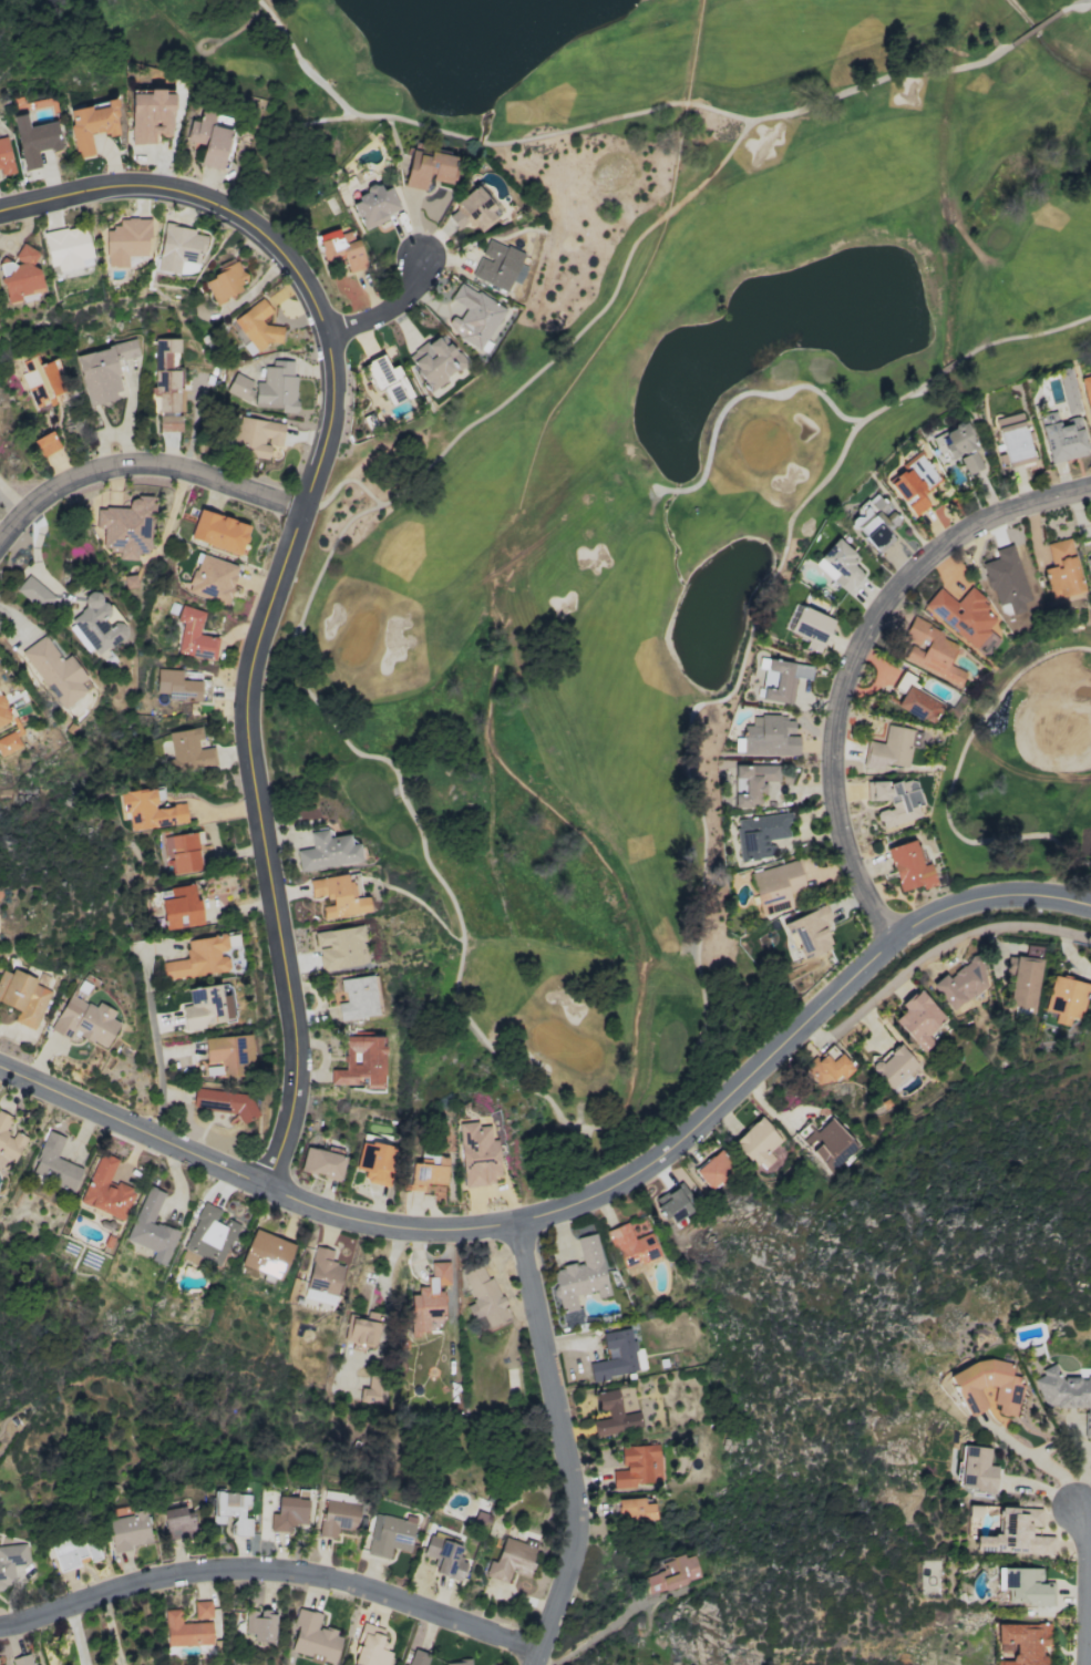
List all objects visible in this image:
road: (1066, 6)
road: (1036, 25)
building: (151, 115)
building: (92, 124)
building: (212, 136)
building: (34, 138)
road: (480, 140)
building: (4, 157)
building: (429, 168)
building: (373, 205)
building: (474, 207)
building: (126, 240)
building: (68, 247)
building: (178, 247)
building: (341, 247)
building: (498, 265)
building: (21, 274)
building: (225, 279)
road: (383, 309)
building: (473, 315)
building: (255, 327)
building: (436, 358)
building: (102, 370)
building: (387, 379)
building: (43, 381)
building: (167, 384)
building: (276, 386)
building: (239, 387)
building: (1087, 389)
building: (256, 436)
building: (1013, 439)
building: (47, 443)
building: (958, 446)
road: (142, 462)
building: (914, 483)
park: (586, 505)
building: (126, 526)
building: (219, 531)
road: (2, 532)
building: (877, 538)
road: (286, 564)
building: (840, 564)
building: (1089, 564)
building: (1062, 568)
building: (212, 577)
building: (1006, 578)
building: (130, 580)
building: (31, 589)
building: (964, 615)
building: (97, 624)
building: (811, 626)
building: (189, 628)
building: (932, 650)
road: (857, 655)
building: (55, 670)
building: (784, 679)
building: (177, 685)
building: (916, 699)
building: (3, 712)
park: (1013, 727)
building: (762, 734)
building: (917, 738)
building: (8, 742)
building: (889, 748)
building: (188, 750)
road: (953, 778)
building: (753, 781)
building: (897, 799)
building: (150, 810)
building: (761, 834)
building: (328, 850)
building: (183, 852)
building: (909, 865)
building: (776, 885)
building: (338, 895)
building: (179, 911)
building: (810, 932)
road: (462, 934)
building: (339, 946)
road: (935, 949)
building: (1032, 950)
building: (198, 958)
building: (1025, 981)
building: (961, 984)
building: (25, 996)
building: (357, 997)
building: (1066, 998)
building: (206, 1006)
building: (918, 1018)
building: (86, 1019)
road: (154, 1031)
building: (228, 1052)
building: (361, 1061)
building: (830, 1065)
building: (896, 1065)
building: (224, 1101)
building: (830, 1133)
building: (9, 1138)
building: (758, 1142)
building: (477, 1153)
building: (377, 1158)
building: (54, 1162)
building: (321, 1162)
building: (714, 1170)
building: (101, 1171)
building: (429, 1172)
road: (581, 1203)
building: (675, 1203)
building: (152, 1226)
building: (209, 1234)
building: (634, 1247)
building: (267, 1253)
building: (581, 1273)
building: (322, 1275)
building: (483, 1294)
building: (429, 1297)
building: (361, 1328)
building: (630, 1353)
building: (986, 1384)
building: (370, 1392)
building: (1066, 1392)
building: (613, 1414)
road: (565, 1445)
road: (1036, 1458)
building: (638, 1464)
building: (977, 1469)
building: (636, 1509)
building: (231, 1510)
building: (289, 1512)
building: (338, 1517)
building: (478, 1518)
building: (177, 1521)
building: (128, 1530)
building: (389, 1534)
building: (1027, 1535)
building: (510, 1545)
building: (12, 1553)
building: (66, 1554)
building: (445, 1556)
road: (272, 1570)
building: (672, 1572)
building: (1029, 1585)
road: (1088, 1585)
building: (202, 1609)
building: (260, 1624)
building: (177, 1627)
road: (112, 1630)
road: (78, 1635)
building: (313, 1636)
building: (1025, 1641)
building: (372, 1646)
building: (418, 1657)
building: (22, 1659)
building: (459, 1663)

